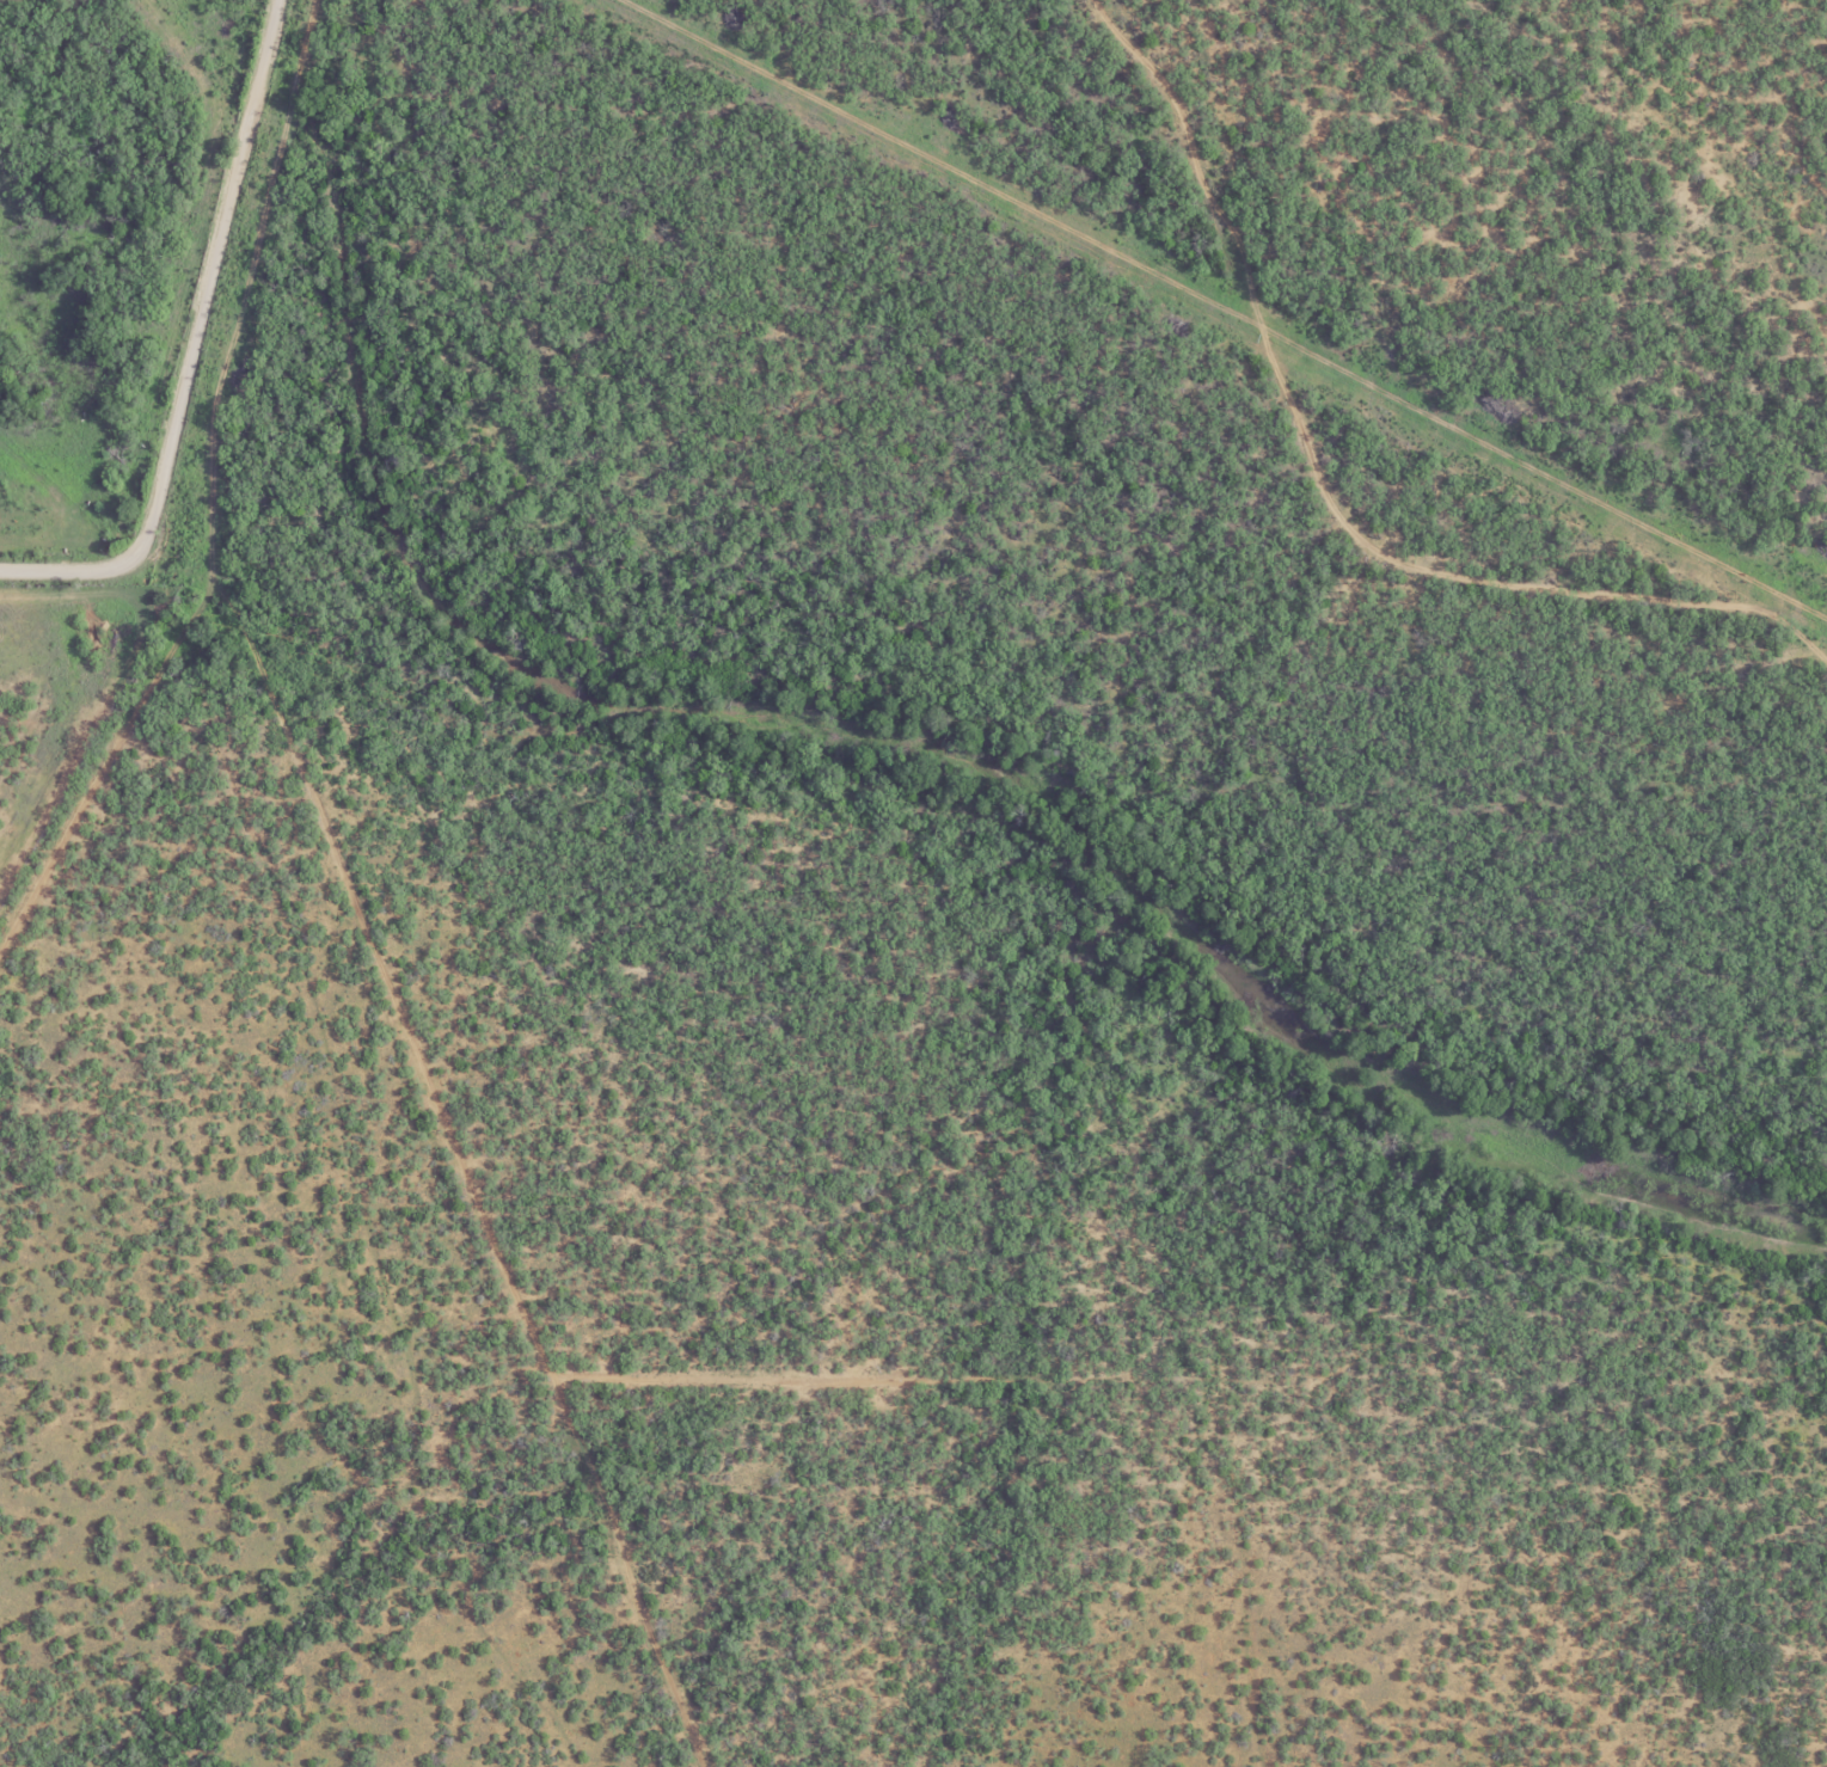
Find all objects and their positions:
road: (192, 345)
road: (211, 467)
road: (526, 1305)

